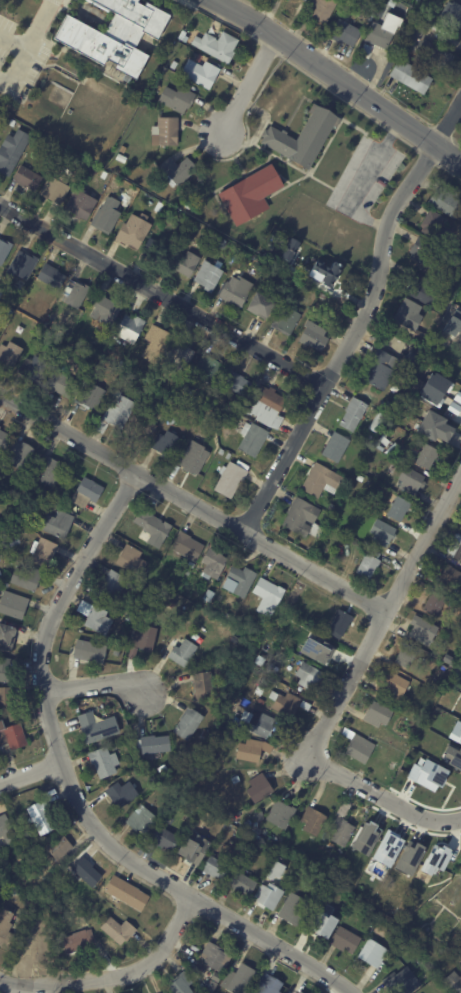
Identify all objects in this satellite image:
building: (304, 0)
building: (391, 3)
building: (322, 9)
building: (451, 12)
building: (344, 32)
building: (116, 34)
building: (375, 39)
road: (30, 41)
building: (215, 45)
building: (427, 46)
building: (199, 72)
building: (409, 75)
road: (342, 76)
road: (248, 80)
building: (176, 98)
road: (448, 121)
building: (11, 122)
building: (165, 131)
building: (302, 137)
building: (48, 143)
building: (12, 150)
building: (120, 157)
building: (81, 162)
building: (157, 167)
building: (182, 170)
road: (365, 175)
building: (26, 178)
building: (114, 182)
building: (55, 186)
building: (248, 194)
building: (126, 201)
building: (445, 201)
building: (80, 204)
building: (158, 207)
building: (105, 215)
building: (435, 224)
building: (133, 231)
building: (220, 243)
building: (288, 248)
building: (4, 250)
building: (309, 250)
building: (426, 252)
building: (184, 264)
building: (20, 265)
building: (257, 265)
building: (329, 274)
building: (49, 275)
building: (207, 277)
building: (305, 289)
building: (420, 289)
building: (74, 290)
building: (235, 291)
road: (162, 292)
building: (259, 304)
building: (102, 309)
building: (455, 316)
building: (409, 319)
building: (285, 321)
building: (126, 328)
building: (313, 336)
road: (346, 337)
building: (154, 344)
building: (9, 354)
building: (413, 354)
building: (177, 357)
building: (121, 363)
building: (205, 367)
building: (31, 369)
building: (380, 369)
building: (457, 371)
building: (233, 381)
building: (58, 383)
building: (433, 387)
building: (188, 389)
building: (89, 396)
building: (445, 396)
building: (425, 400)
building: (162, 404)
building: (264, 405)
building: (117, 412)
building: (351, 414)
building: (138, 426)
building: (432, 427)
building: (386, 435)
building: (251, 438)
building: (3, 439)
building: (164, 444)
building: (334, 447)
building: (221, 451)
building: (17, 454)
building: (227, 455)
building: (425, 456)
building: (192, 458)
building: (50, 471)
building: (229, 478)
building: (359, 478)
building: (319, 480)
building: (409, 480)
building: (70, 481)
building: (85, 492)
building: (22, 494)
road: (193, 501)
building: (331, 507)
building: (399, 509)
building: (326, 515)
building: (301, 518)
building: (55, 524)
building: (146, 524)
building: (381, 532)
building: (342, 535)
building: (182, 543)
building: (2, 548)
building: (456, 548)
building: (40, 552)
building: (372, 553)
building: (130, 560)
building: (211, 563)
building: (366, 566)
building: (24, 577)
building: (449, 578)
building: (239, 580)
building: (110, 585)
building: (207, 595)
building: (266, 596)
building: (172, 598)
building: (433, 604)
building: (11, 608)
road: (383, 616)
building: (127, 619)
building: (210, 619)
building: (96, 620)
building: (339, 624)
building: (222, 628)
building: (421, 630)
building: (119, 635)
building: (6, 638)
building: (144, 640)
building: (322, 650)
building: (89, 651)
building: (176, 651)
building: (405, 656)
building: (447, 659)
building: (4, 670)
building: (307, 675)
building: (392, 685)
road: (91, 686)
building: (202, 687)
building: (5, 702)
building: (260, 702)
building: (285, 704)
building: (376, 714)
building: (256, 723)
building: (187, 724)
building: (96, 726)
building: (233, 731)
building: (455, 732)
building: (10, 741)
building: (153, 745)
building: (357, 747)
building: (252, 751)
building: (123, 753)
building: (399, 756)
building: (453, 756)
building: (101, 762)
building: (219, 766)
building: (391, 766)
road: (27, 771)
building: (426, 773)
building: (235, 779)
building: (258, 788)
road: (69, 789)
building: (120, 793)
road: (381, 795)
building: (272, 797)
building: (184, 814)
building: (279, 815)
building: (38, 817)
building: (140, 820)
building: (245, 820)
building: (311, 822)
building: (4, 827)
building: (255, 831)
building: (339, 833)
building: (366, 838)
building: (163, 839)
building: (192, 847)
building: (387, 848)
building: (59, 850)
building: (409, 857)
building: (434, 859)
building: (215, 869)
building: (275, 870)
building: (84, 872)
building: (240, 884)
building: (125, 894)
building: (266, 896)
building: (424, 908)
building: (292, 910)
building: (318, 925)
building: (4, 930)
building: (116, 931)
building: (400, 938)
building: (344, 941)
building: (77, 942)
building: (419, 946)
building: (28, 947)
building: (371, 953)
building: (213, 958)
road: (114, 976)
building: (240, 978)
building: (400, 982)
building: (179, 984)
building: (453, 984)
building: (266, 985)
building: (200, 988)
building: (294, 991)

